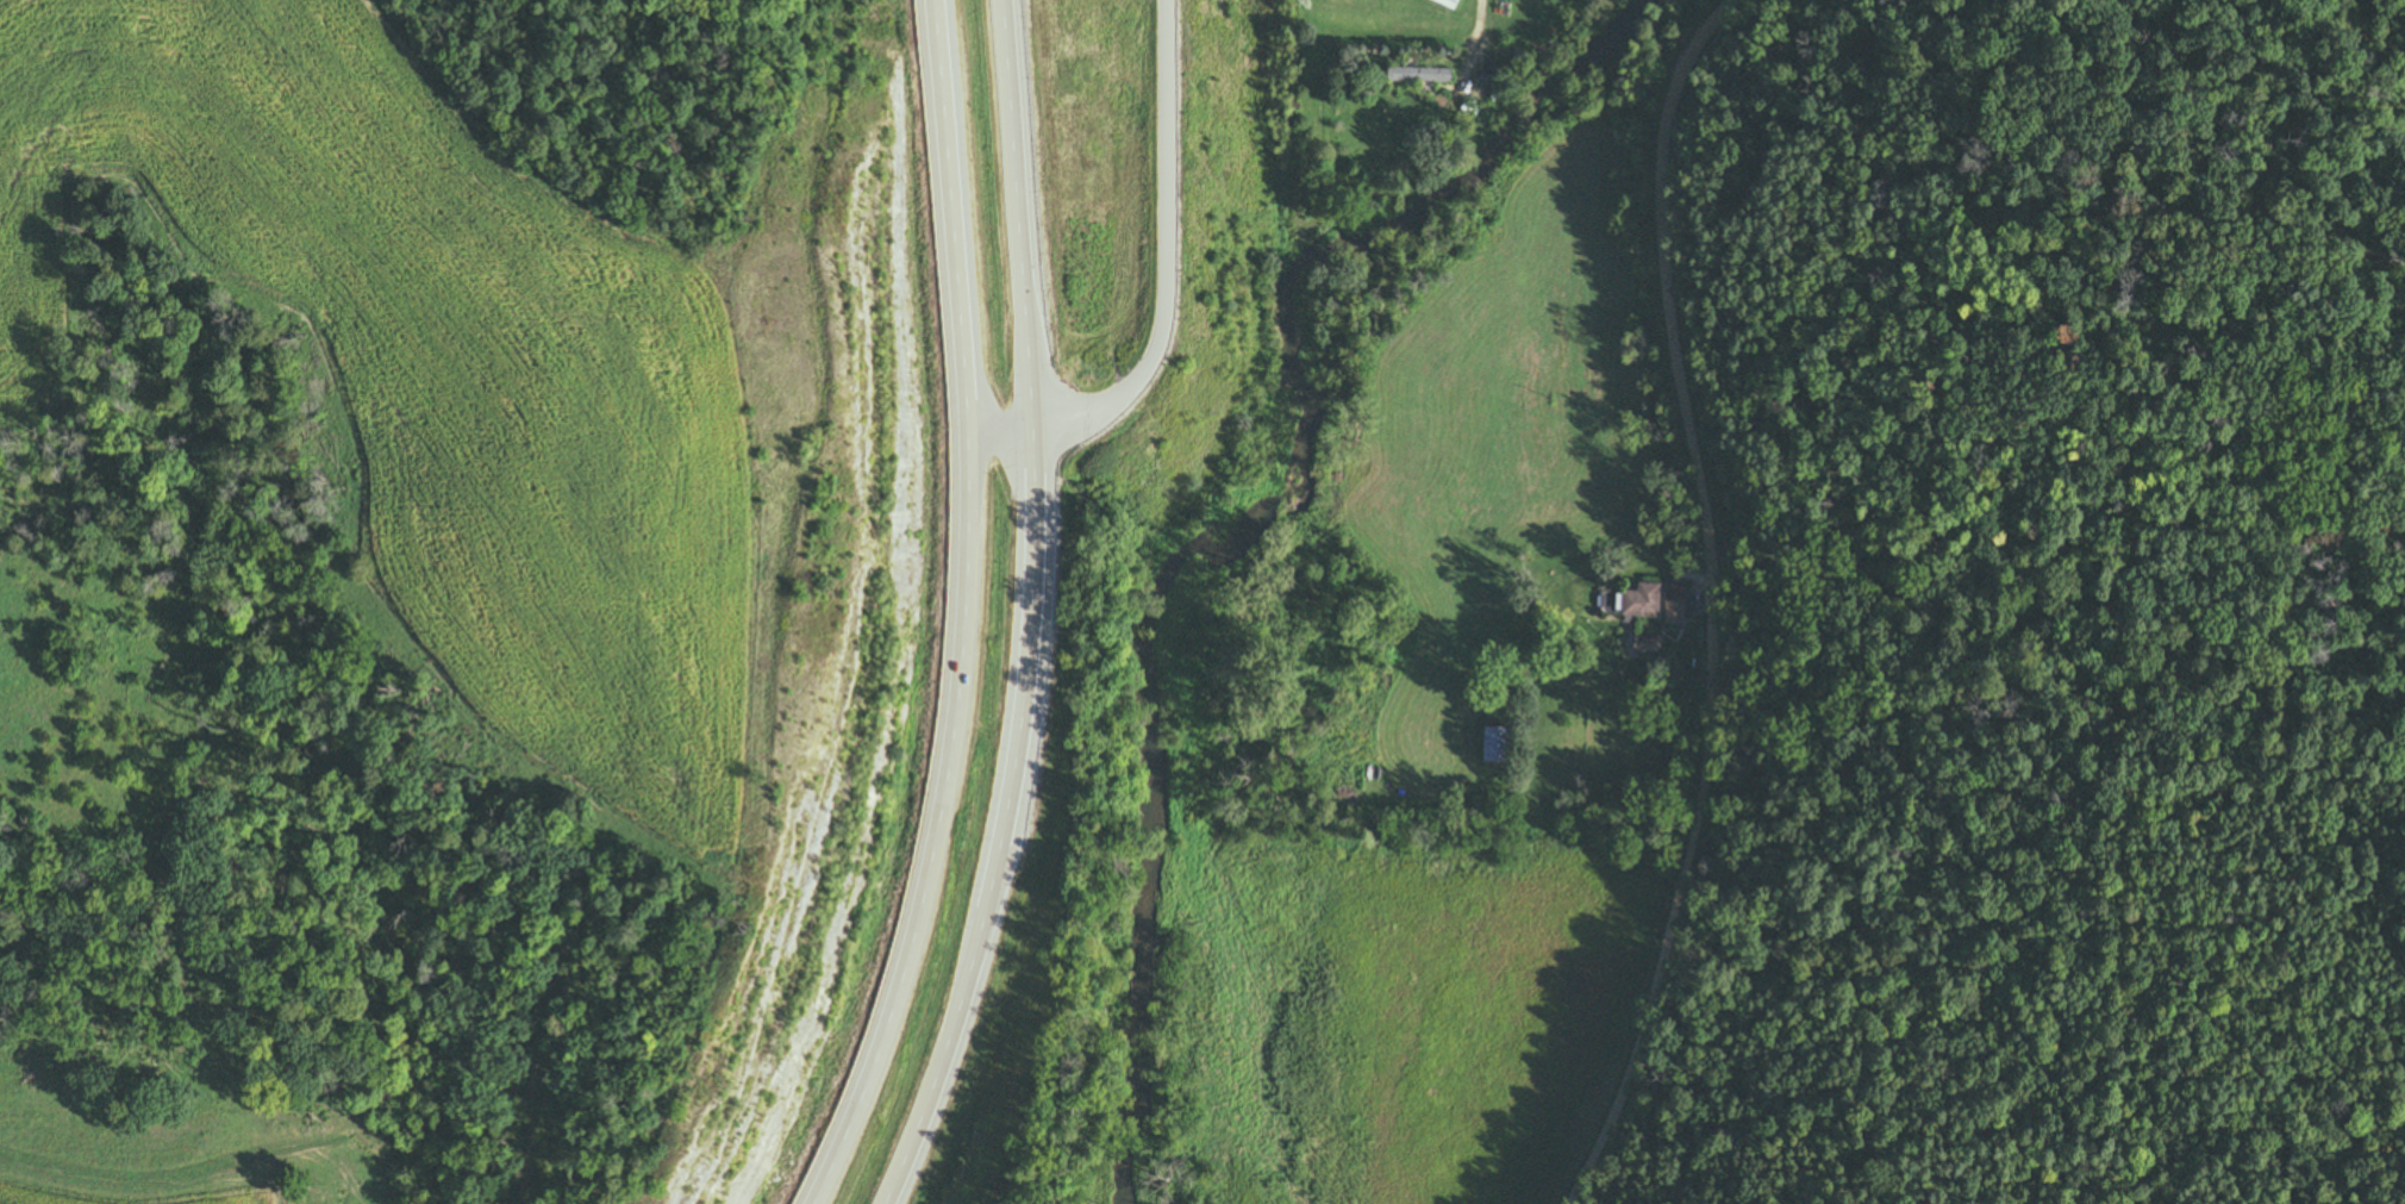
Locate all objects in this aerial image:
building: (1450, 4)
road: (1475, 24)
building: (1522, 63)
building: (1424, 74)
road: (1177, 291)
building: (1632, 601)
building: (1668, 604)
road: (1712, 604)
road: (1036, 611)
road: (964, 612)
building: (1489, 746)

